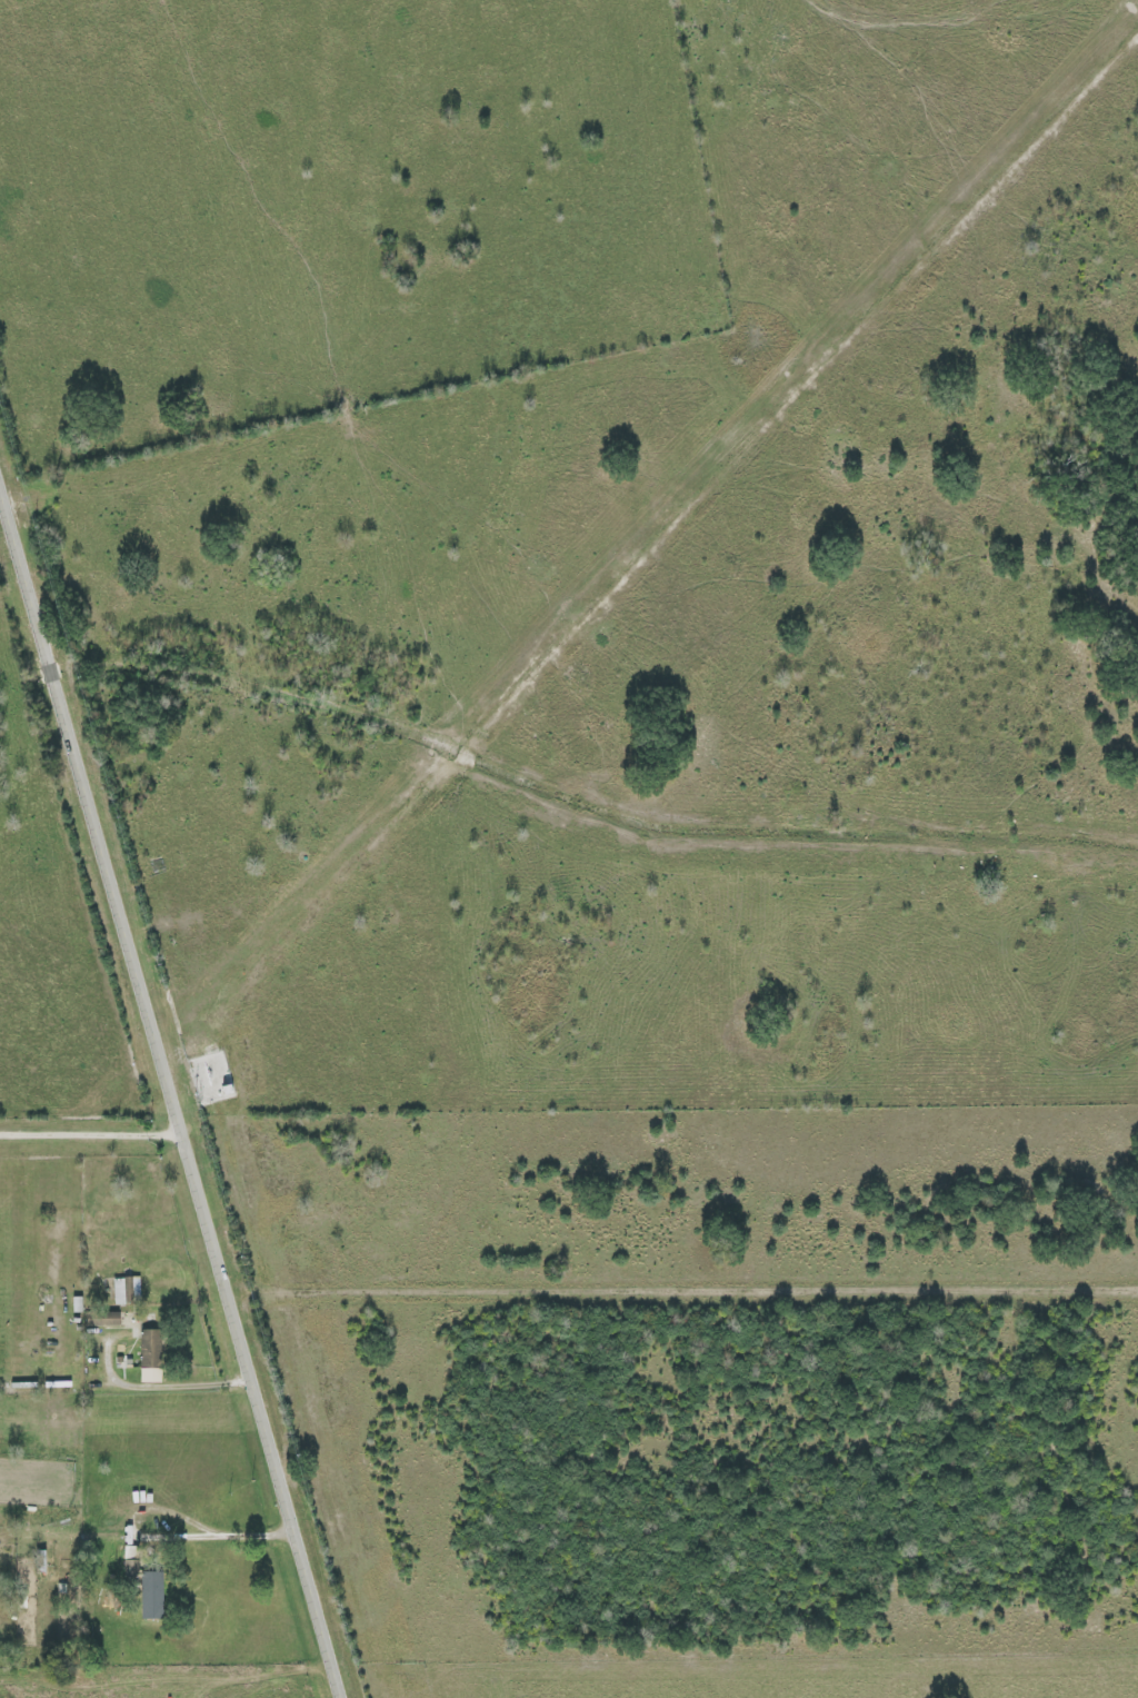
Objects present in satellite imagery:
road: (355, 708)
road: (170, 1093)
road: (90, 1128)
building: (113, 1285)
building: (93, 1313)
building: (110, 1319)
building: (139, 1343)
building: (149, 1357)
road: (178, 1378)
building: (49, 1380)
building: (14, 1381)
road: (212, 1530)
building: (29, 1559)
building: (133, 1577)

